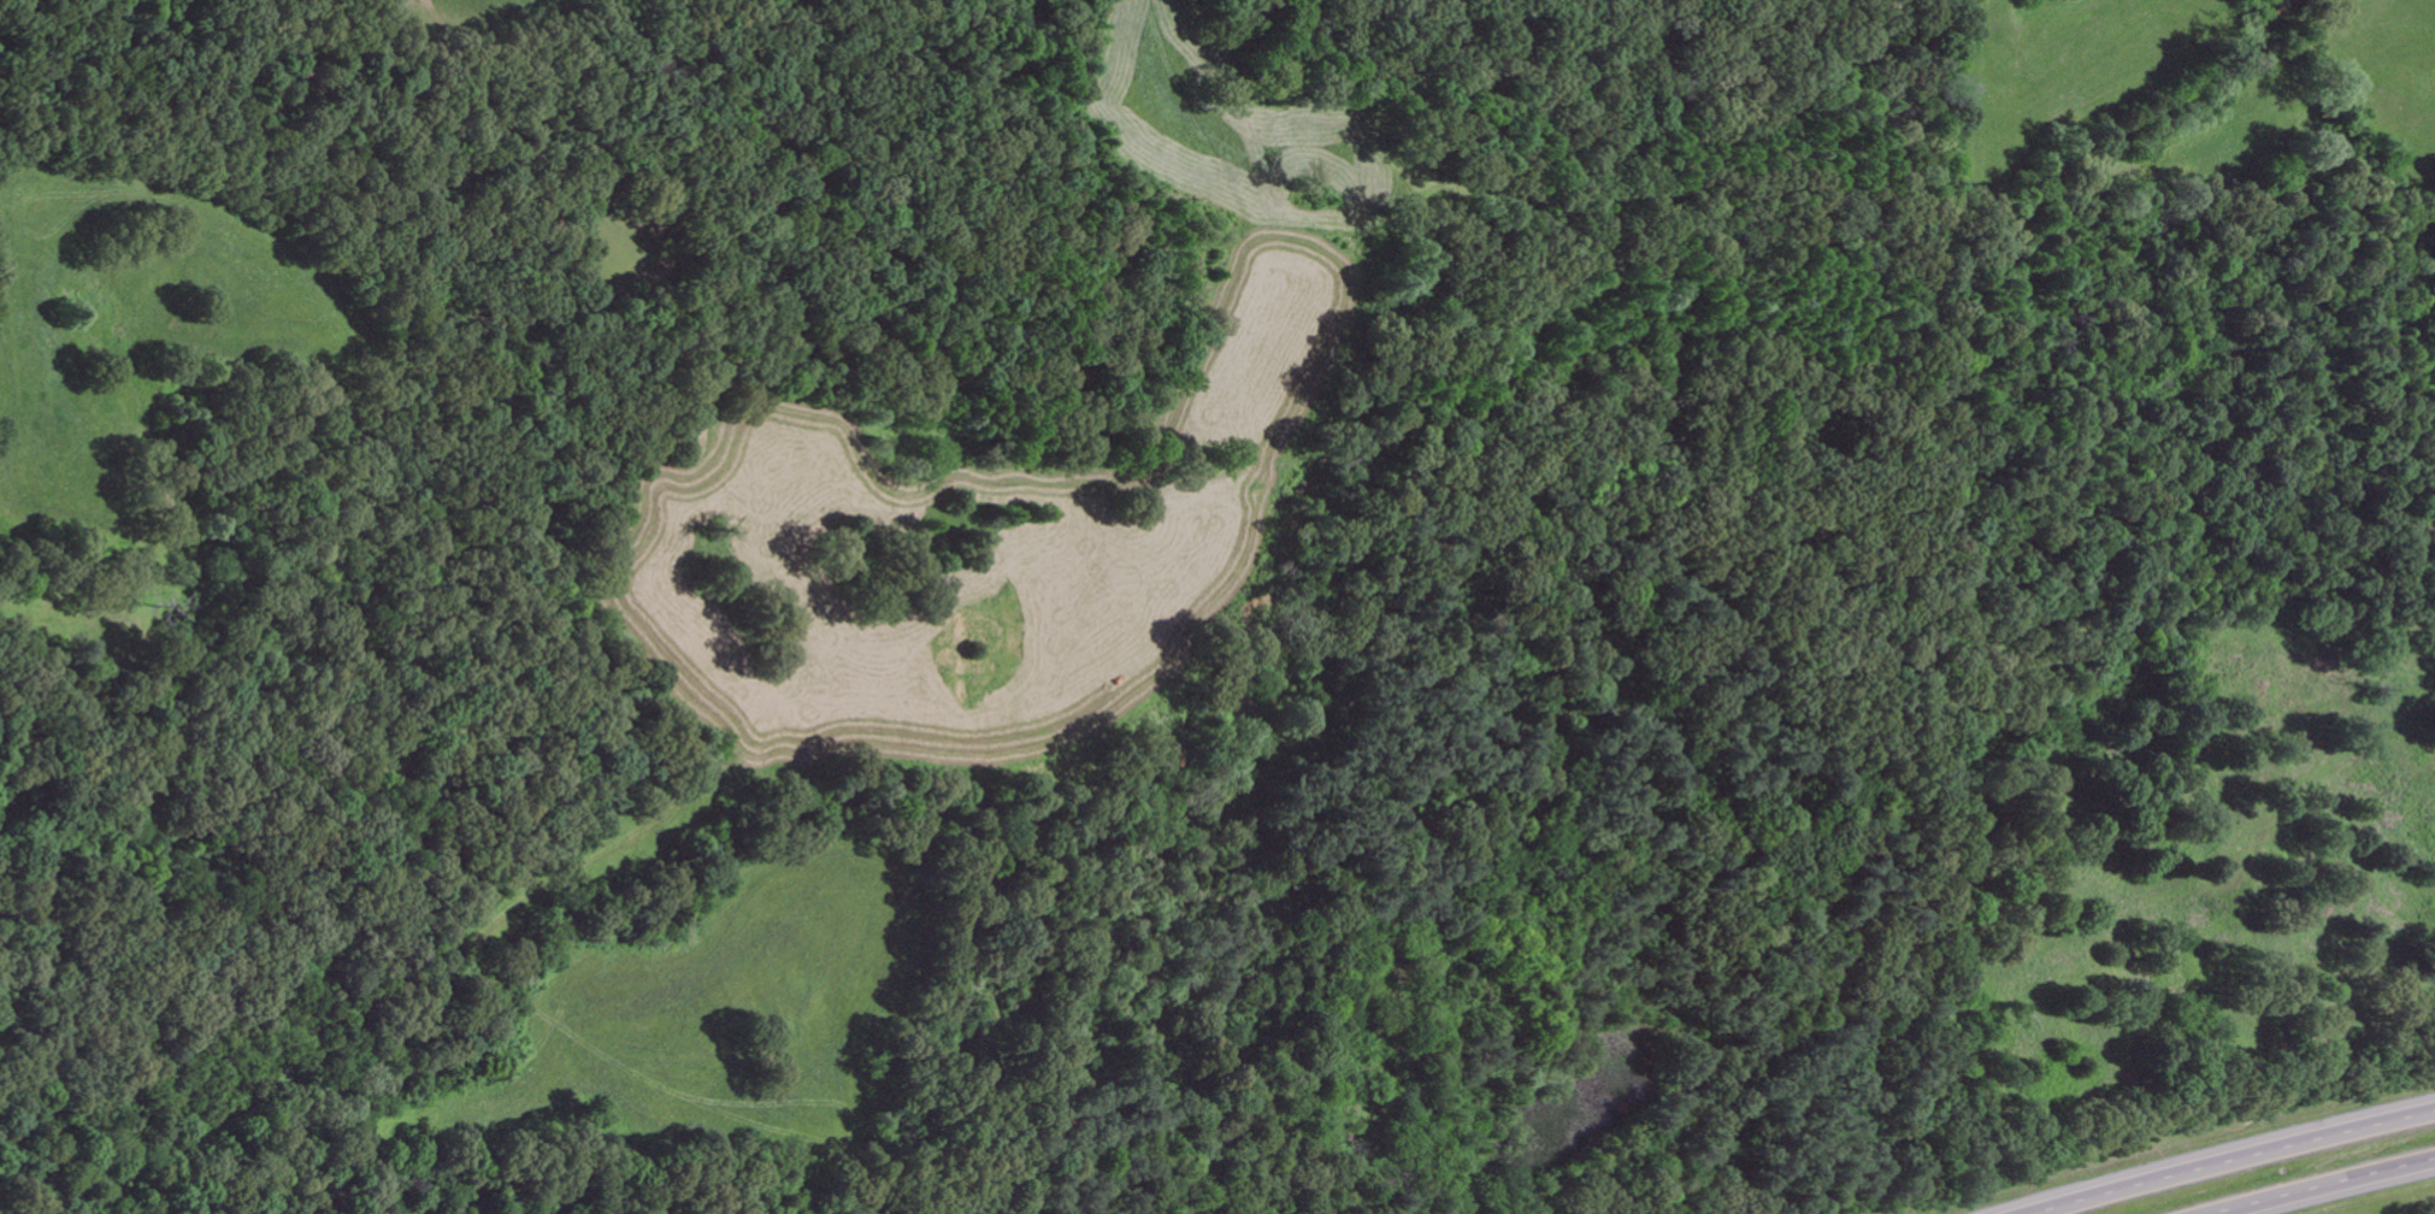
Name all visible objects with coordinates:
road: (2221, 1156)
road: (2328, 1188)

